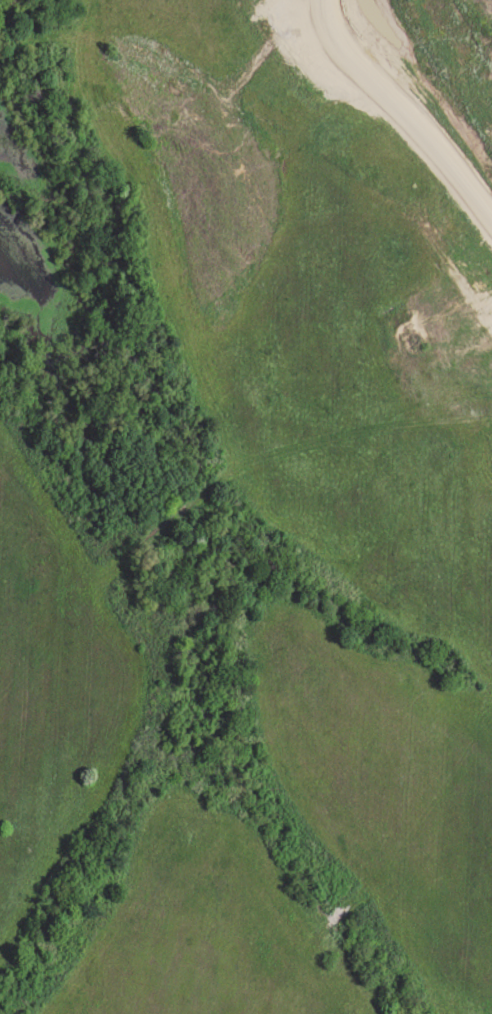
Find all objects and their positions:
road: (310, 155)

